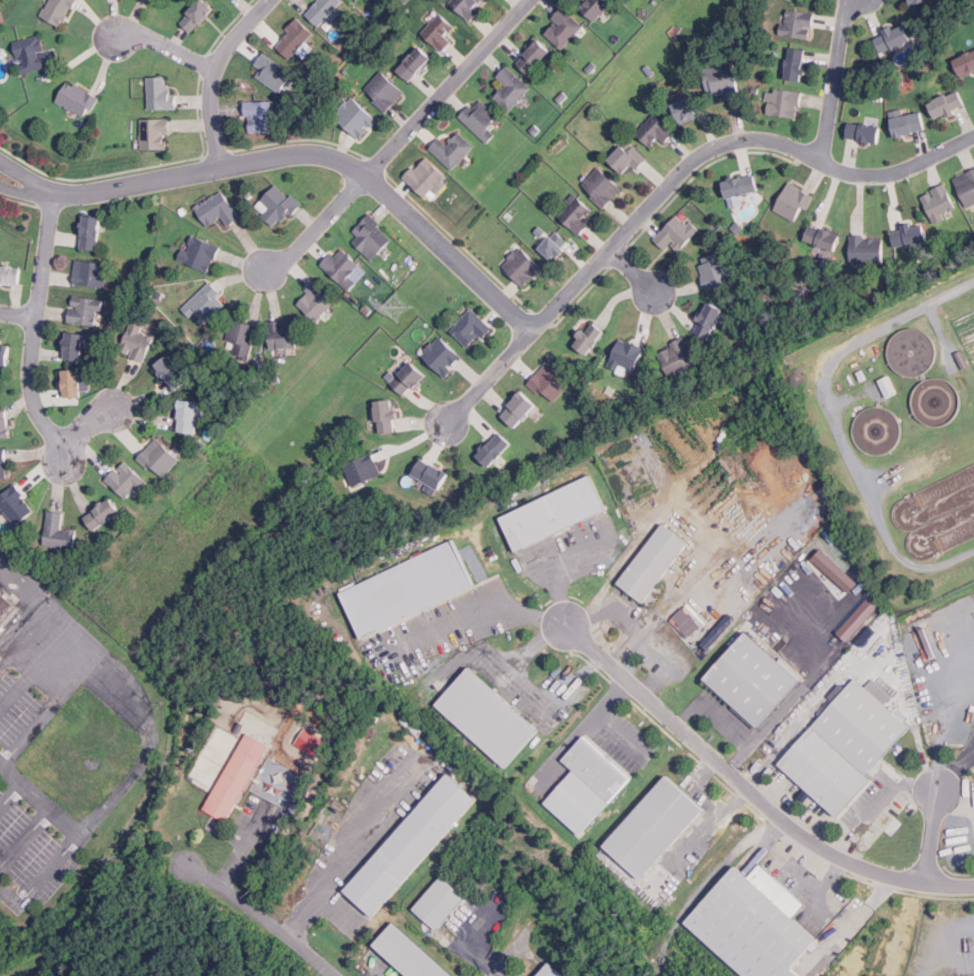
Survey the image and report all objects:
building: (153, 0)
building: (371, 0)
building: (919, 2)
building: (468, 6)
building: (595, 7)
building: (321, 9)
building: (58, 11)
building: (196, 16)
building: (797, 23)
building: (563, 27)
building: (438, 32)
building: (892, 38)
building: (295, 41)
road: (168, 47)
building: (33, 54)
building: (534, 57)
building: (965, 63)
building: (415, 64)
building: (795, 64)
building: (272, 73)
road: (217, 75)
building: (721, 80)
road: (834, 80)
building: (511, 89)
building: (384, 91)
building: (161, 94)
building: (77, 99)
building: (785, 103)
building: (948, 104)
building: (688, 109)
building: (677, 110)
building: (260, 117)
building: (357, 118)
building: (480, 119)
building: (908, 124)
building: (655, 131)
building: (864, 133)
building: (154, 134)
road: (398, 139)
building: (453, 150)
building: (628, 158)
road: (323, 160)
building: (426, 178)
road: (674, 182)
building: (966, 186)
building: (602, 188)
building: (740, 188)
road: (48, 192)
building: (793, 202)
building: (939, 202)
building: (278, 205)
building: (217, 209)
building: (576, 214)
building: (90, 232)
building: (677, 232)
building: (371, 236)
building: (909, 236)
building: (822, 237)
building: (554, 245)
building: (866, 248)
building: (199, 253)
building: (342, 267)
building: (523, 267)
road: (630, 270)
building: (715, 270)
building: (90, 273)
building: (10, 275)
building: (316, 300)
building: (206, 301)
power tower: (399, 306)
building: (85, 309)
road: (18, 313)
building: (709, 320)
road: (35, 326)
building: (472, 327)
building: (283, 334)
building: (589, 338)
building: (242, 339)
building: (137, 343)
building: (74, 346)
building: (5, 354)
building: (627, 355)
building: (442, 356)
building: (676, 356)
building: (172, 373)
building: (408, 379)
building: (550, 382)
building: (71, 384)
building: (887, 386)
building: (519, 410)
building: (189, 417)
building: (386, 417)
road: (838, 422)
building: (5, 424)
road: (77, 435)
building: (494, 450)
building: (159, 458)
building: (3, 466)
building: (362, 470)
building: (431, 477)
building: (125, 480)
building: (15, 504)
building: (554, 513)
building: (102, 514)
road: (702, 524)
building: (58, 531)
road: (560, 562)
building: (654, 563)
building: (408, 589)
building: (5, 594)
building: (6, 611)
road: (477, 613)
road: (586, 617)
building: (1, 631)
road: (474, 649)
building: (1, 658)
road: (515, 666)
road: (36, 669)
building: (755, 680)
road: (127, 683)
road: (52, 707)
building: (489, 718)
building: (862, 723)
road: (722, 724)
road: (582, 726)
road: (942, 731)
road: (614, 735)
building: (825, 772)
building: (237, 778)
building: (275, 778)
building: (587, 786)
road: (11, 791)
road: (750, 792)
road: (42, 795)
road: (712, 797)
building: (656, 828)
road: (26, 833)
road: (933, 836)
road: (691, 843)
building: (413, 845)
road: (346, 854)
road: (42, 873)
road: (702, 885)
building: (441, 902)
road: (264, 917)
building: (755, 922)
building: (411, 953)
road: (521, 957)
building: (553, 970)

